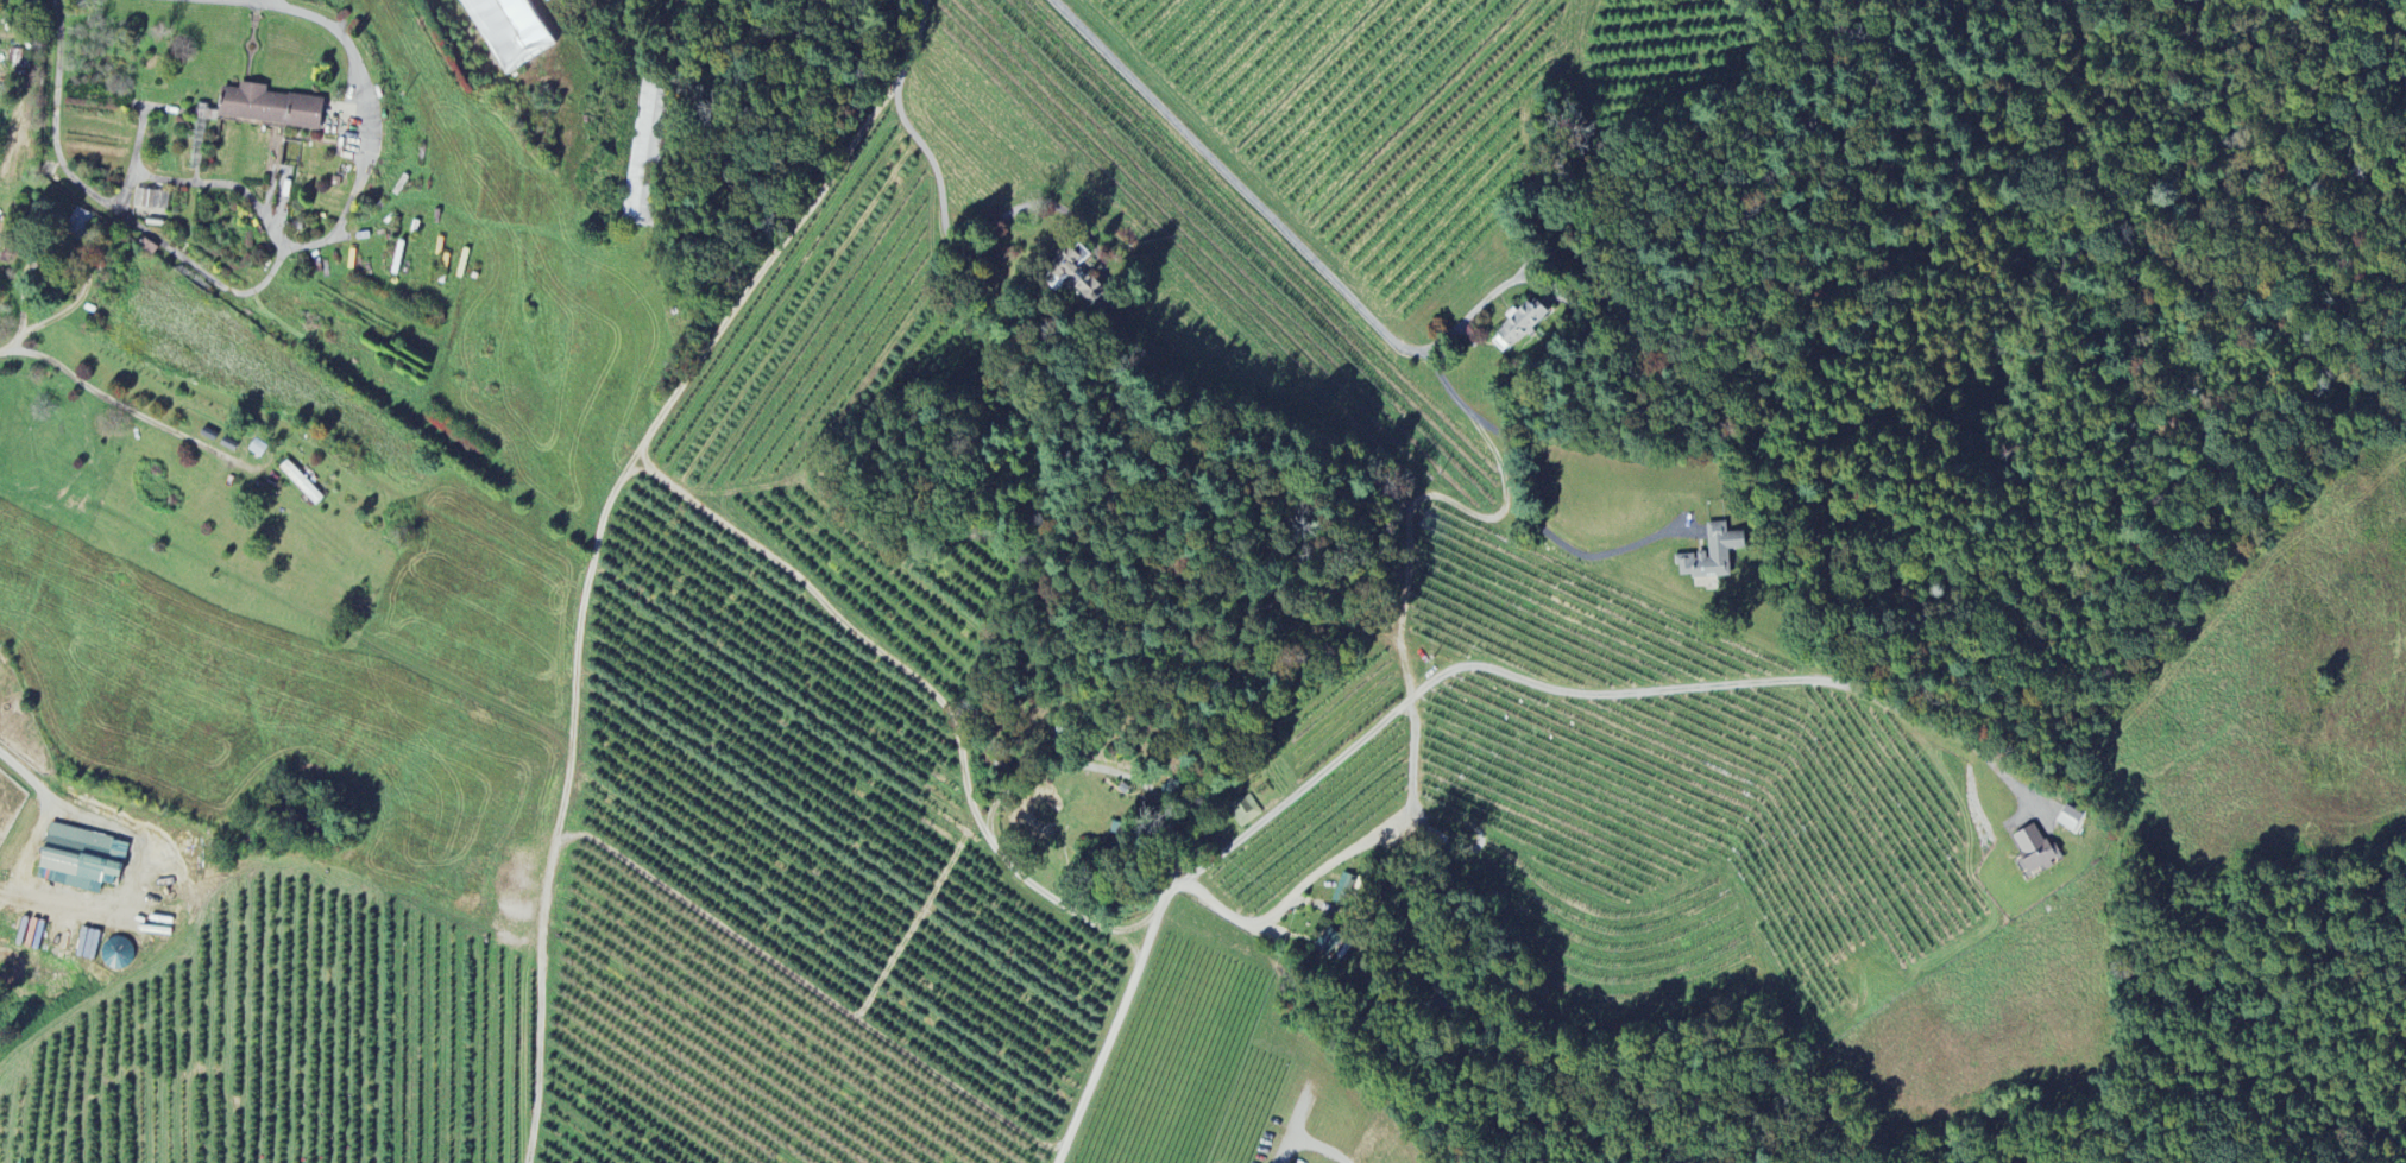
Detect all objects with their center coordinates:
building: (509, 31)
building: (267, 108)
road: (909, 129)
road: (1237, 137)
building: (642, 154)
building: (150, 201)
building: (77, 225)
road: (277, 261)
road: (84, 265)
road: (764, 267)
building: (1077, 274)
road: (1110, 284)
road: (1360, 310)
road: (1473, 315)
building: (1518, 327)
road: (126, 409)
building: (301, 483)
road: (1405, 537)
road: (598, 538)
building: (1712, 556)
road: (1441, 678)
road: (27, 775)
road: (1006, 790)
building: (1245, 811)
building: (2071, 821)
building: (2034, 851)
road: (1341, 857)
building: (76, 859)
road: (1130, 943)
building: (116, 955)
road: (810, 988)
road: (1308, 1146)

